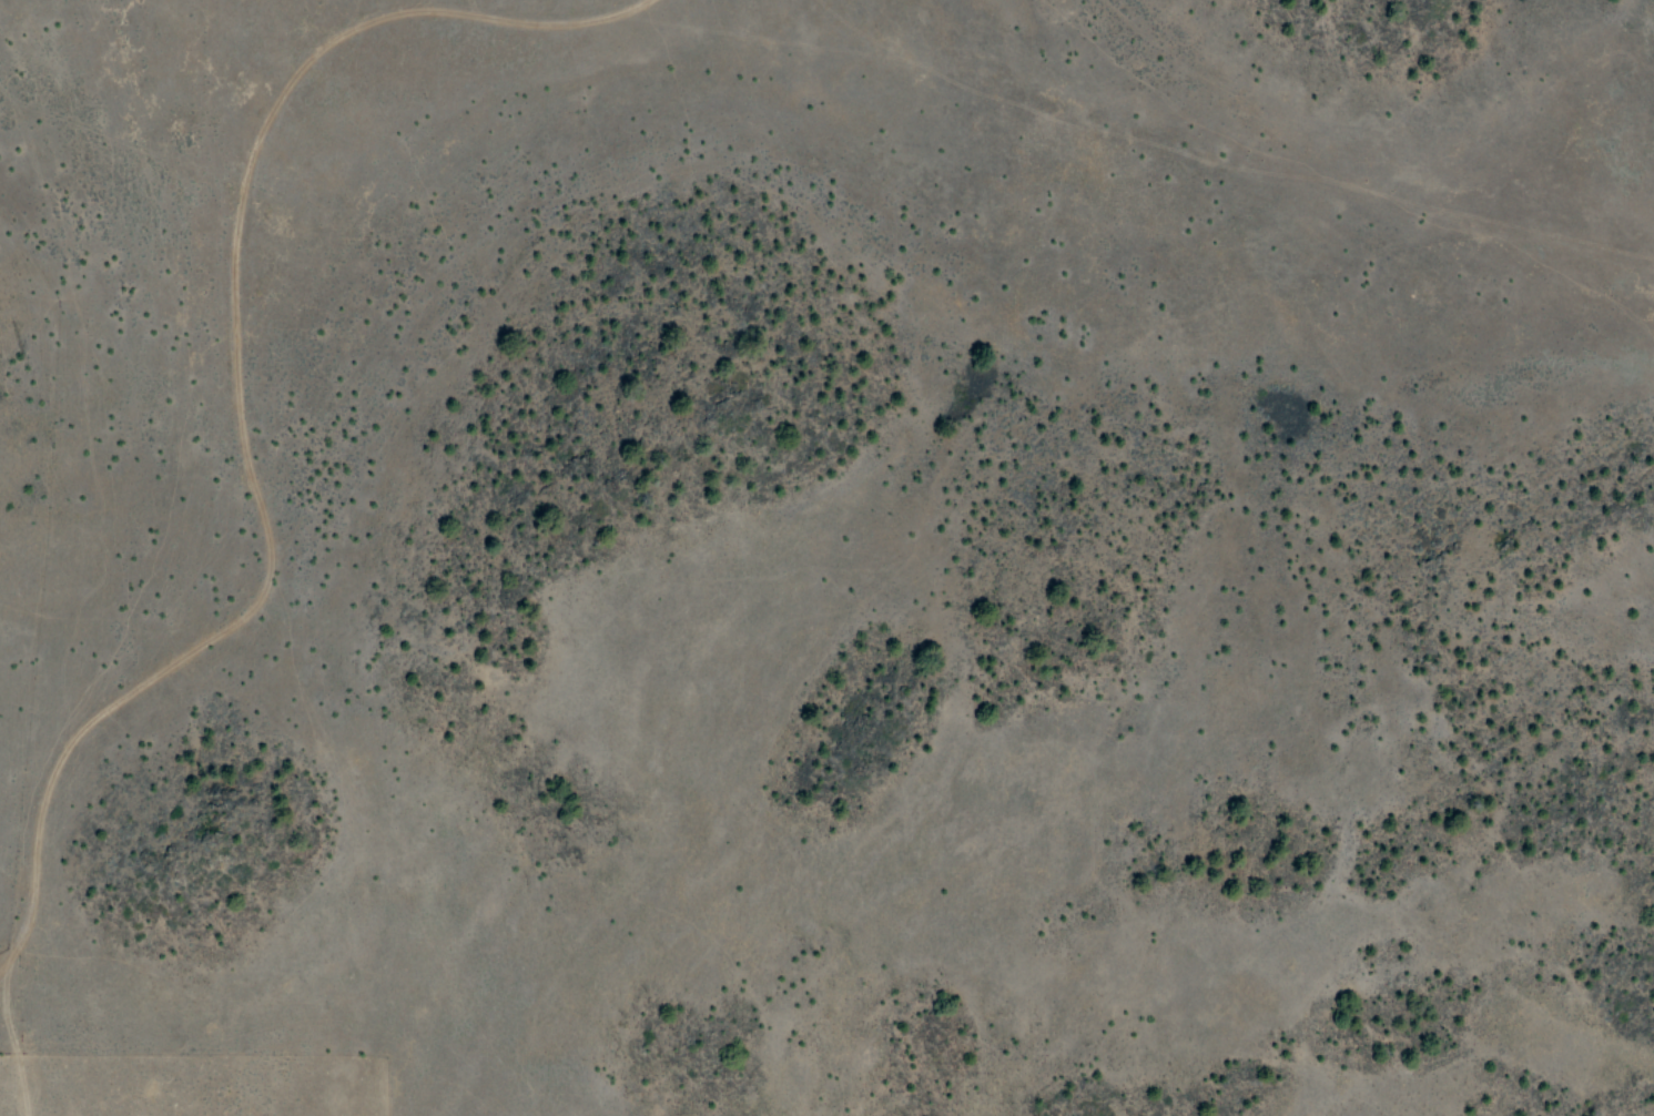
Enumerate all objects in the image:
road: (397, 7)
road: (262, 534)
road: (11, 1035)

